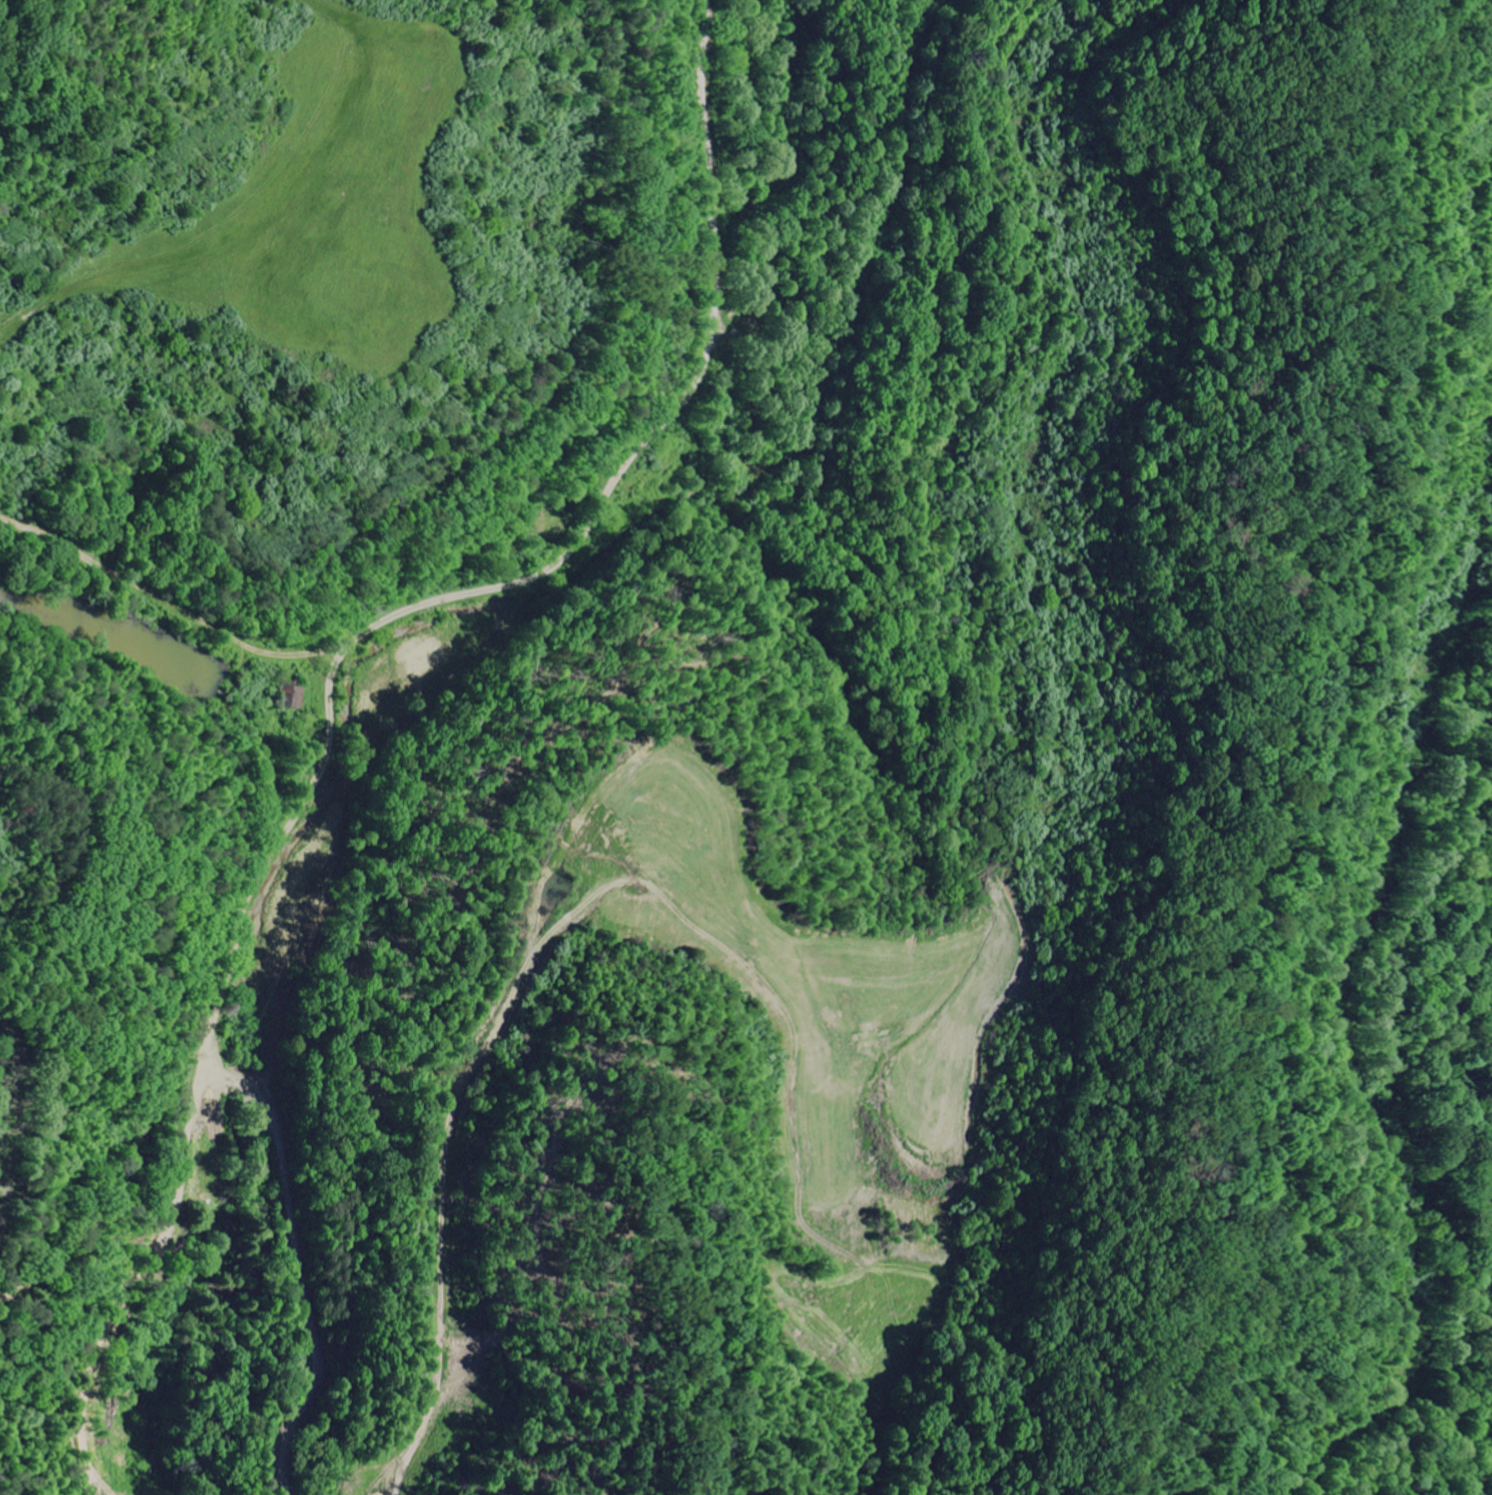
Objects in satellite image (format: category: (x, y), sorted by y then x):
road: (351, 648)
road: (69, 1464)
road: (93, 1464)

